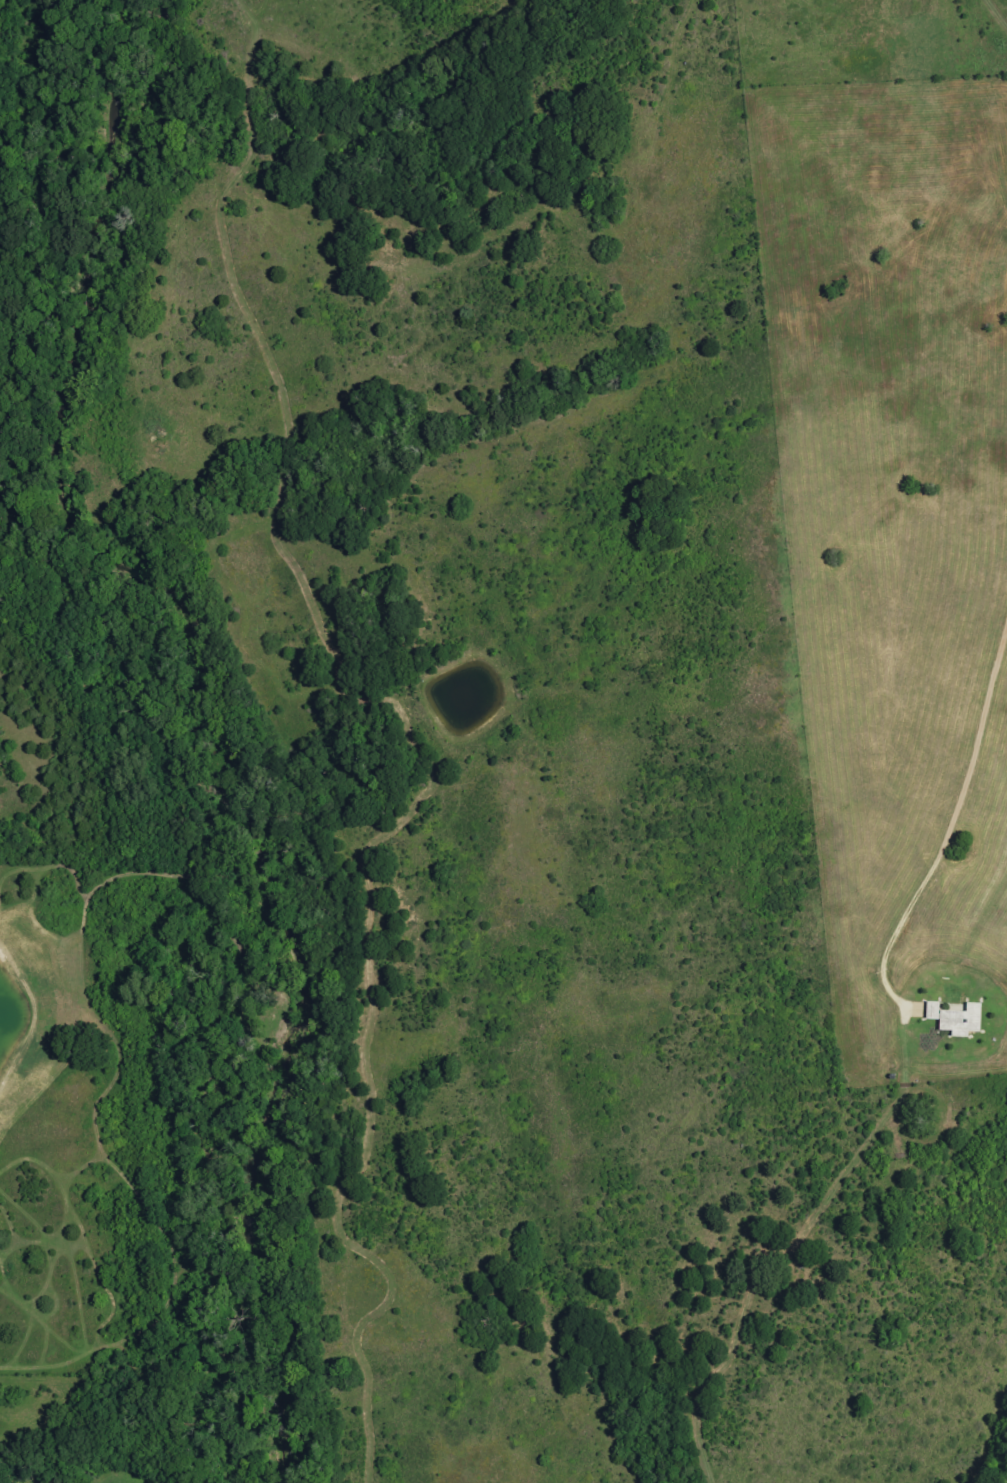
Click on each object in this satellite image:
building: (958, 1019)

